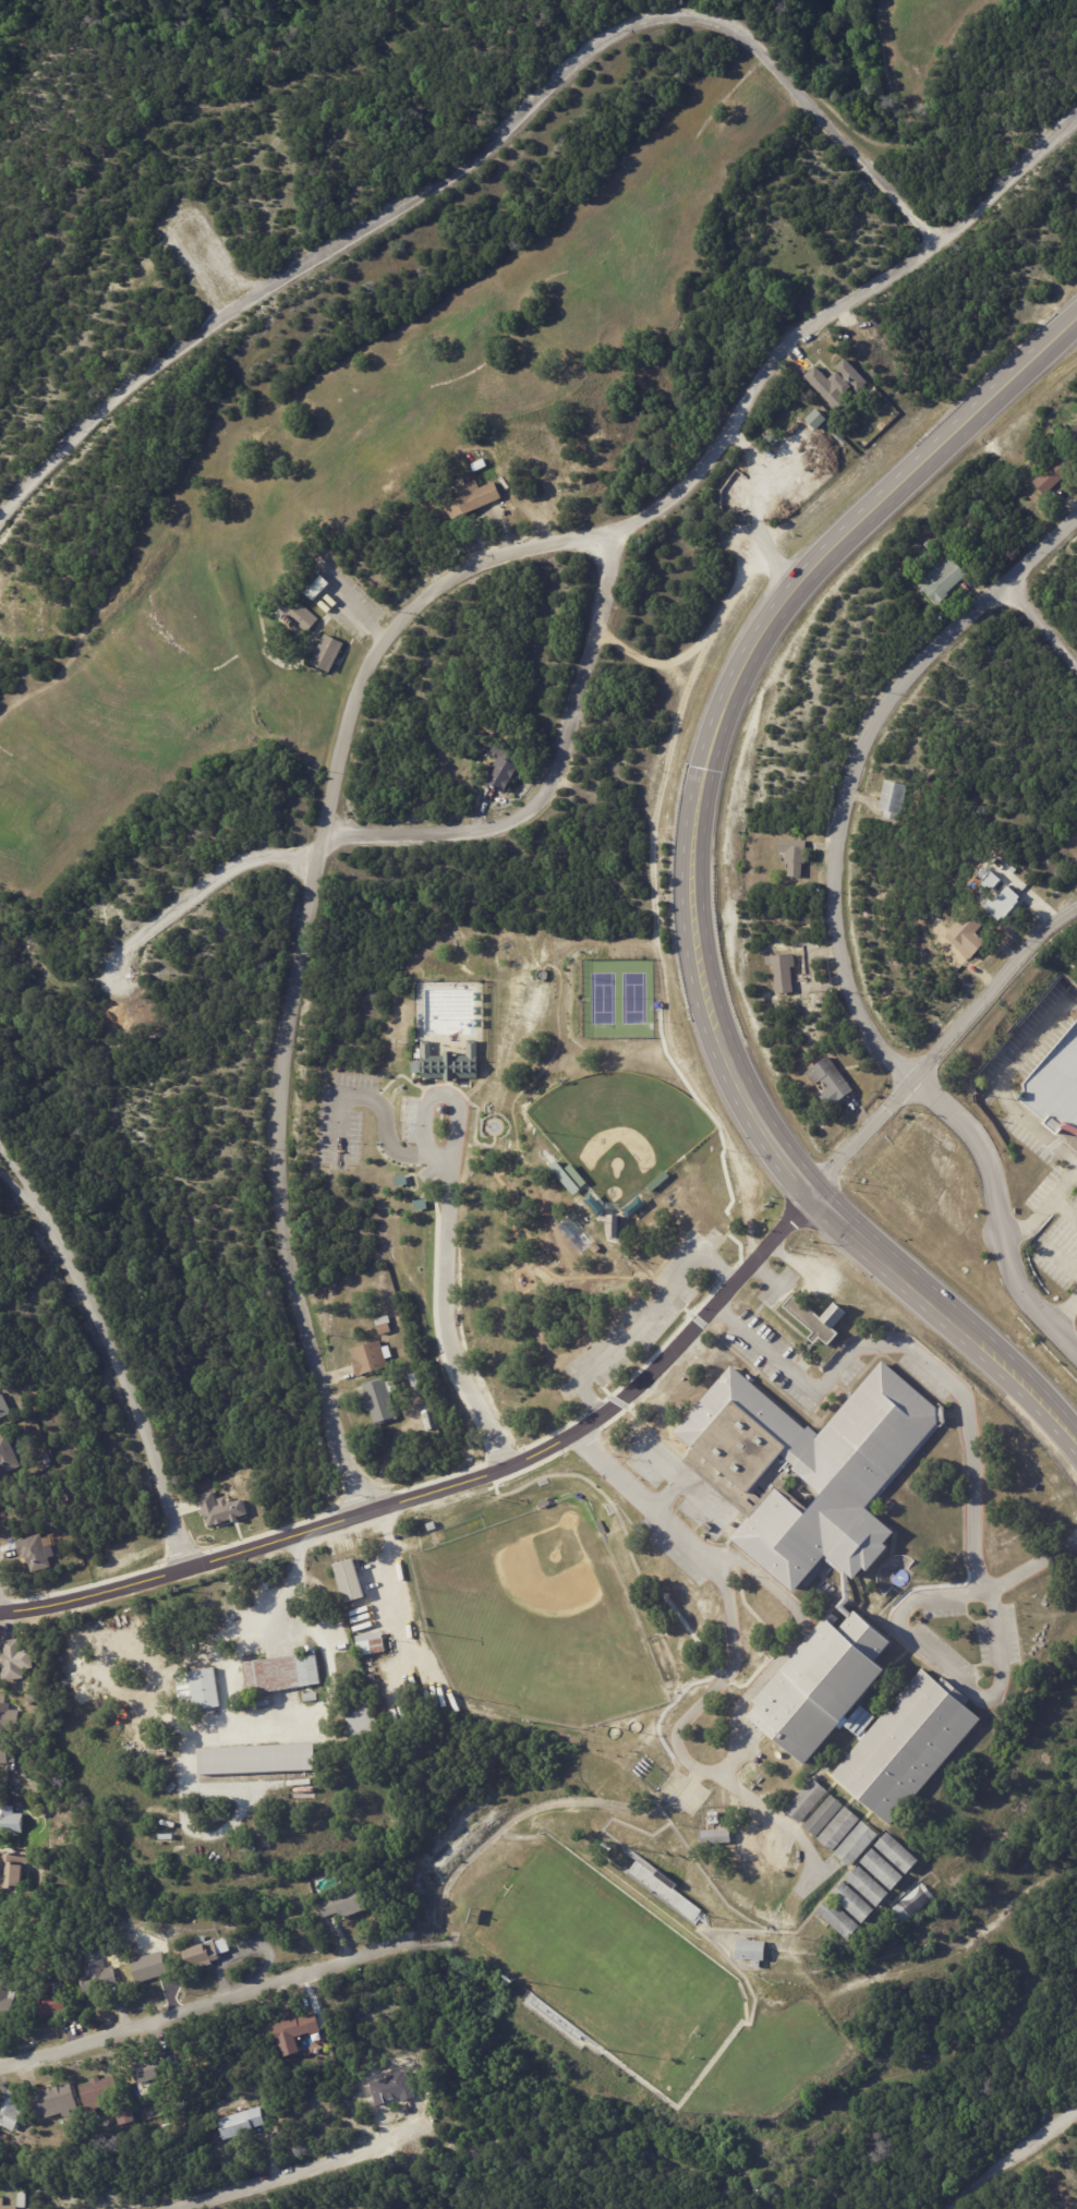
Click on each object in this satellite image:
road: (486, 141)
road: (197, 252)
road: (1062, 335)
building: (838, 385)
building: (814, 418)
building: (1075, 431)
building: (1056, 474)
building: (543, 481)
road: (761, 490)
building: (473, 497)
road: (778, 575)
building: (946, 580)
building: (298, 615)
road: (1040, 625)
road: (379, 643)
building: (328, 652)
road: (695, 652)
road: (858, 768)
building: (501, 769)
road: (549, 772)
building: (898, 795)
building: (797, 854)
building: (990, 879)
road: (199, 892)
road: (690, 903)
building: (1000, 903)
building: (969, 931)
building: (783, 967)
road: (991, 990)
park: (624, 999)
building: (763, 1000)
building: (659, 1005)
road: (452, 1049)
building: (451, 1063)
road: (452, 1066)
road: (993, 1071)
building: (798, 1072)
road: (404, 1075)
building: (832, 1075)
building: (1058, 1085)
building: (809, 1086)
road: (451, 1087)
road: (379, 1103)
parking lot: (344, 1118)
parking lot: (419, 1121)
park: (624, 1131)
building: (577, 1175)
building: (401, 1180)
building: (658, 1181)
building: (724, 1185)
building: (421, 1205)
road: (999, 1207)
road: (1044, 1210)
building: (615, 1227)
road: (447, 1247)
building: (595, 1248)
road: (1067, 1311)
road: (646, 1319)
building: (383, 1321)
building: (820, 1321)
road: (112, 1355)
building: (370, 1357)
building: (415, 1380)
road: (960, 1391)
building: (379, 1402)
building: (1, 1412)
building: (8, 1456)
building: (47, 1460)
road: (525, 1461)
building: (813, 1473)
road: (683, 1481)
building: (580, 1495)
road: (705, 1499)
building: (544, 1502)
building: (220, 1508)
building: (432, 1525)
building: (602, 1525)
building: (707, 1525)
building: (400, 1533)
building: (35, 1552)
building: (350, 1580)
road: (292, 1589)
park: (535, 1631)
building: (373, 1643)
road: (788, 1650)
building: (12, 1659)
road: (734, 1664)
building: (283, 1670)
building: (822, 1687)
building: (205, 1689)
building: (311, 1695)
building: (34, 1698)
building: (363, 1718)
building: (172, 1719)
building: (7, 1729)
building: (909, 1750)
building: (256, 1759)
building: (808, 1804)
building: (9, 1818)
building: (823, 1820)
building: (839, 1833)
building: (716, 1836)
building: (857, 1848)
building: (898, 1858)
building: (11, 1870)
building: (883, 1873)
building: (868, 1891)
building: (341, 1905)
building: (915, 1905)
building: (852, 1908)
building: (2, 1922)
building: (838, 1924)
building: (38, 1948)
building: (752, 1951)
building: (178, 1959)
park: (601, 1964)
building: (97, 1978)
building: (7, 1999)
building: (49, 2002)
road: (179, 2006)
building: (295, 2031)
building: (147, 2072)
building: (94, 2095)
building: (57, 2101)
building: (223, 2108)
building: (185, 2110)
building: (10, 2111)
building: (126, 2115)
building: (242, 2123)
road: (1014, 2161)
road: (268, 2181)
building: (22, 2199)
building: (1, 2201)

